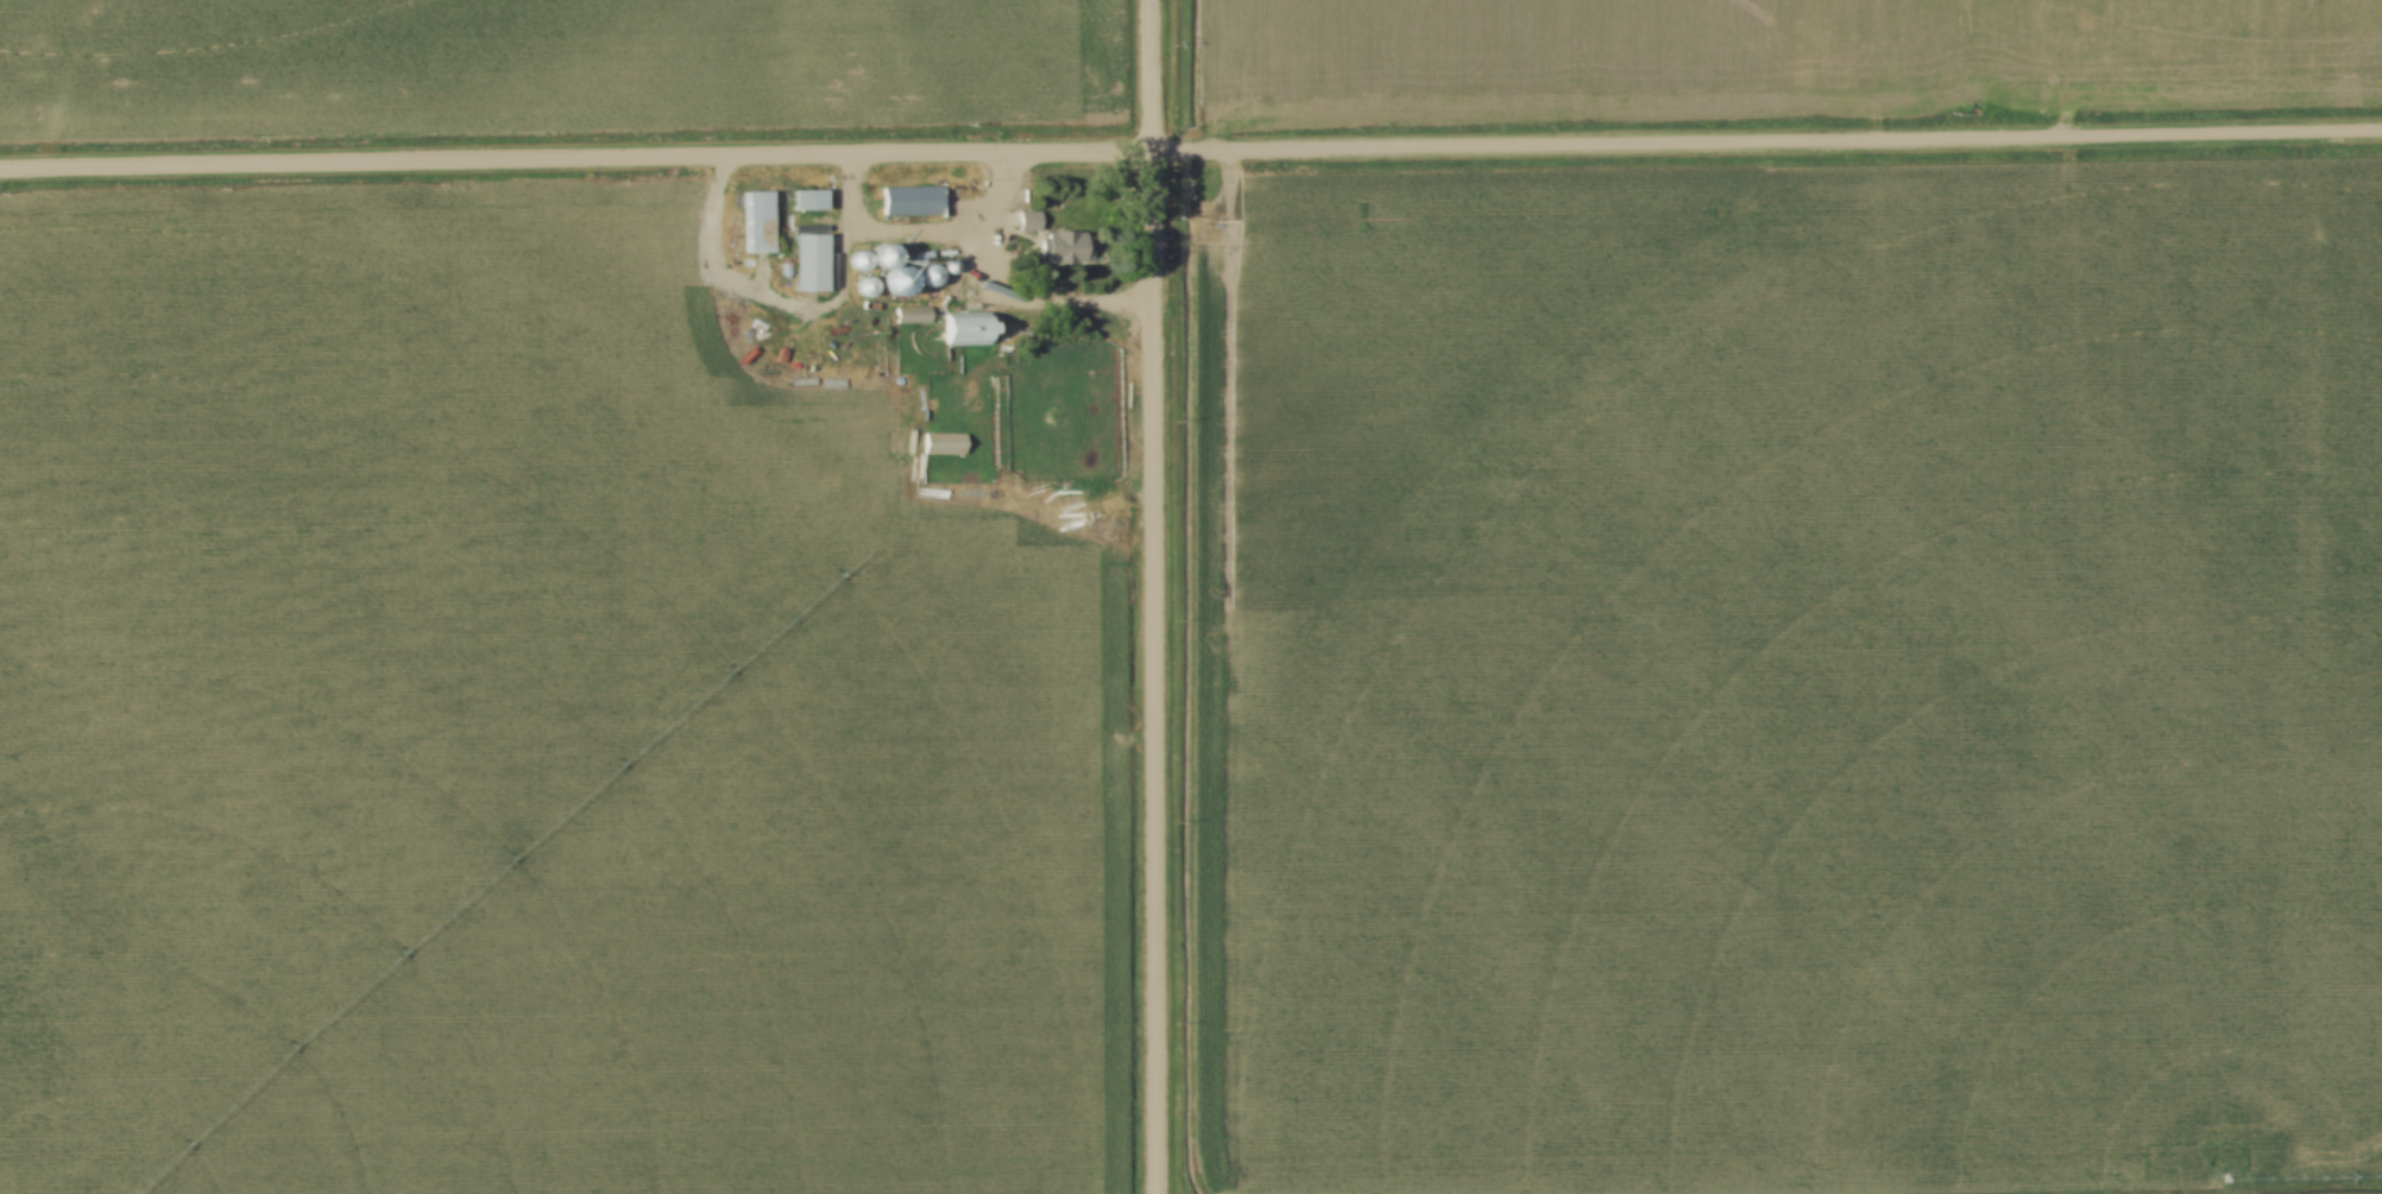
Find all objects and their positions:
crop: (1772, 59)
crop: (554, 71)
road: (1191, 152)
building: (808, 200)
building: (913, 201)
building: (762, 222)
building: (1053, 242)
silo: (880, 253)
silo: (855, 259)
building: (811, 263)
silo: (949, 266)
silo: (927, 274)
silo: (899, 280)
silo: (868, 286)
road: (998, 297)
building: (908, 316)
building: (963, 331)
building: (945, 447)
building: (1067, 500)
road: (1152, 596)
crop: (1809, 677)
crop: (519, 729)

